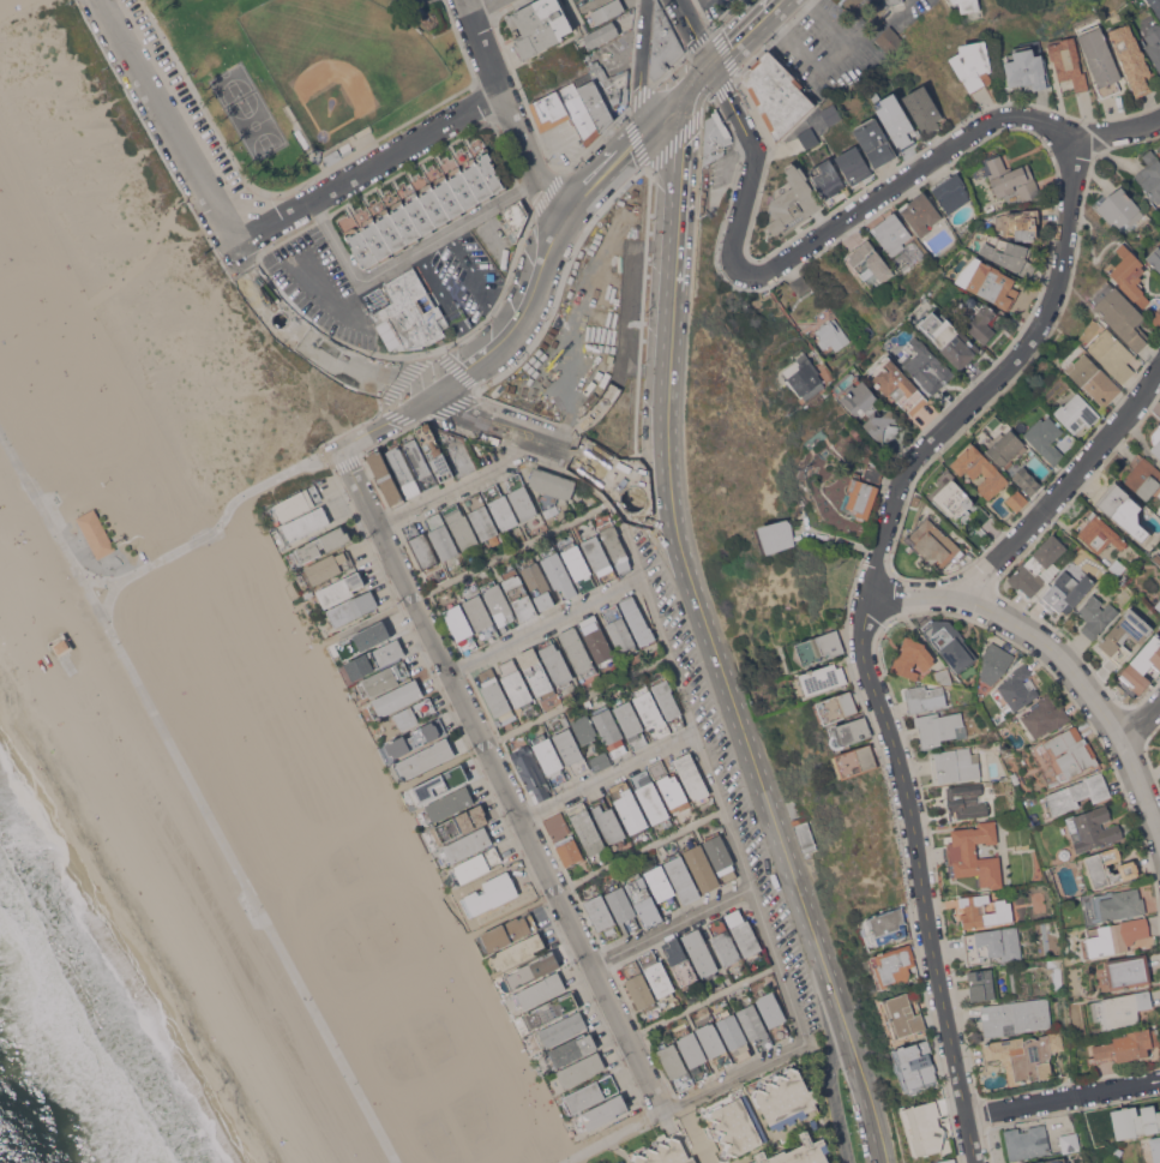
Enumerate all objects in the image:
building: (957, 2)
road: (476, 4)
building: (968, 5)
building: (1155, 6)
building: (607, 10)
building: (874, 14)
building: (539, 25)
road: (695, 32)
road: (746, 32)
building: (601, 34)
building: (889, 40)
building: (1154, 42)
building: (662, 43)
building: (585, 55)
building: (1132, 59)
road: (823, 60)
building: (1100, 60)
park: (341, 61)
road: (642, 62)
building: (1068, 62)
building: (973, 64)
traffic signals: (713, 65)
building: (595, 66)
building: (1026, 68)
park: (312, 73)
road: (692, 85)
building: (613, 86)
building: (776, 94)
building: (595, 101)
traffic signals: (673, 106)
building: (922, 108)
road: (509, 110)
building: (551, 110)
building: (579, 112)
park: (251, 113)
building: (831, 113)
road: (662, 114)
building: (896, 120)
parking lot: (198, 122)
traffic signals: (653, 124)
building: (715, 136)
building: (874, 142)
building: (1159, 148)
building: (347, 151)
building: (317, 155)
building: (332, 156)
road: (751, 164)
building: (854, 164)
road: (366, 168)
building: (1150, 175)
building: (828, 178)
road: (903, 178)
building: (1011, 178)
building: (951, 191)
building: (793, 202)
building: (1119, 209)
building: (426, 210)
building: (920, 212)
building: (515, 218)
building: (1018, 223)
building: (892, 233)
road: (224, 235)
building: (1008, 253)
road: (408, 256)
building: (1154, 257)
road: (144, 258)
building: (871, 264)
road: (543, 266)
building: (1130, 275)
building: (990, 282)
road: (479, 283)
building: (800, 284)
park: (30, 288)
road: (777, 302)
road: (673, 304)
building: (414, 314)
building: (1120, 314)
building: (1153, 316)
building: (982, 323)
building: (831, 334)
building: (950, 337)
road: (625, 340)
road: (1029, 344)
building: (1107, 349)
building: (925, 364)
road: (647, 367)
building: (805, 376)
building: (1095, 380)
building: (896, 383)
building: (869, 409)
building: (1076, 412)
road: (383, 422)
building: (860, 437)
building: (1046, 438)
road: (540, 440)
building: (1004, 446)
building: (1156, 448)
building: (434, 450)
building: (458, 450)
building: (420, 462)
building: (980, 469)
building: (403, 472)
building: (801, 473)
building: (872, 473)
building: (385, 476)
building: (1143, 476)
building: (1027, 480)
park: (142, 486)
building: (551, 486)
road: (1066, 486)
road: (458, 487)
building: (859, 497)
building: (522, 498)
building: (954, 498)
building: (1017, 499)
building: (295, 503)
building: (500, 506)
road: (654, 506)
building: (551, 510)
building: (1123, 510)
building: (980, 516)
building: (482, 518)
building: (305, 524)
building: (461, 526)
road: (215, 528)
road: (812, 532)
building: (96, 533)
building: (1100, 533)
building: (776, 535)
building: (441, 536)
road: (630, 542)
building: (323, 544)
building: (933, 544)
road: (522, 545)
building: (421, 546)
building: (615, 546)
building: (553, 547)
building: (1156, 557)
building: (599, 558)
building: (578, 565)
building: (1117, 565)
building: (327, 566)
building: (1036, 566)
building: (559, 575)
building: (537, 585)
building: (341, 588)
building: (1066, 591)
building: (519, 595)
road: (108, 599)
building: (499, 605)
building: (1158, 605)
building: (353, 607)
building: (1096, 615)
building: (481, 617)
building: (637, 621)
road: (363, 623)
road: (545, 624)
building: (461, 628)
building: (619, 629)
building: (1125, 635)
building: (365, 640)
building: (596, 641)
building: (950, 642)
building: (62, 645)
building: (819, 647)
road: (1058, 649)
building: (578, 652)
building: (912, 657)
building: (375, 659)
building: (555, 661)
building: (994, 663)
building: (1142, 664)
building: (536, 672)
building: (943, 676)
building: (823, 678)
building: (384, 679)
building: (516, 684)
building: (1016, 689)
building: (494, 694)
building: (925, 697)
building: (396, 699)
road: (576, 701)
building: (668, 701)
building: (588, 702)
building: (836, 707)
building: (650, 712)
building: (411, 713)
building: (1044, 717)
building: (631, 724)
road: (1144, 724)
building: (940, 726)
building: (584, 727)
building: (609, 730)
building: (848, 732)
building: (417, 737)
building: (571, 749)
building: (1070, 753)
building: (991, 756)
building: (425, 759)
building: (549, 759)
building: (857, 760)
building: (601, 761)
building: (956, 765)
road: (755, 767)
building: (659, 768)
road: (435, 769)
building: (531, 773)
road: (608, 775)
road: (500, 777)
building: (1015, 777)
building: (692, 778)
building: (1053, 783)
building: (437, 785)
building: (1077, 792)
building: (674, 793)
building: (650, 796)
road: (198, 798)
building: (966, 801)
building: (447, 804)
building: (1014, 805)
building: (629, 807)
road: (721, 809)
building: (608, 822)
building: (456, 826)
building: (587, 827)
building: (801, 828)
building: (1092, 828)
building: (564, 839)
building: (465, 845)
road: (639, 851)
building: (975, 853)
building: (1064, 853)
building: (721, 856)
park: (343, 858)
building: (701, 864)
building: (475, 865)
building: (1110, 867)
road: (924, 875)
building: (681, 876)
building: (662, 888)
building: (491, 893)
building: (644, 900)
building: (1113, 904)
building: (623, 909)
building: (984, 911)
road: (506, 916)
building: (603, 917)
building: (1053, 924)
road: (672, 925)
building: (885, 925)
building: (509, 931)
building: (744, 934)
building: (1114, 935)
building: (723, 941)
building: (993, 943)
building: (518, 951)
building: (701, 953)
building: (1068, 958)
building: (680, 964)
building: (894, 965)
building: (531, 970)
building: (1128, 970)
building: (656, 973)
building: (981, 983)
building: (638, 985)
building: (540, 990)
road: (703, 1001)
building: (552, 1009)
building: (1120, 1009)
building: (774, 1014)
building: (903, 1014)
building: (1016, 1015)
building: (755, 1026)
park: (408, 1029)
building: (559, 1030)
building: (733, 1033)
building: (715, 1045)
building: (1126, 1045)
building: (570, 1050)
building: (693, 1051)
building: (1024, 1055)
building: (675, 1065)
building: (915, 1065)
building: (581, 1069)
road: (734, 1074)
building: (591, 1092)
road: (834, 1095)
road: (865, 1095)
building: (785, 1097)
road: (1064, 1097)
building: (601, 1113)
building: (1136, 1121)
building: (816, 1125)
building: (737, 1126)
building: (924, 1127)
road: (693, 1132)
road: (612, 1134)
building: (1027, 1141)
building: (1070, 1141)
building: (1155, 1147)
building: (668, 1150)
building: (799, 1152)
building: (946, 1161)
building: (1052, 1161)
building: (621, 1162)

